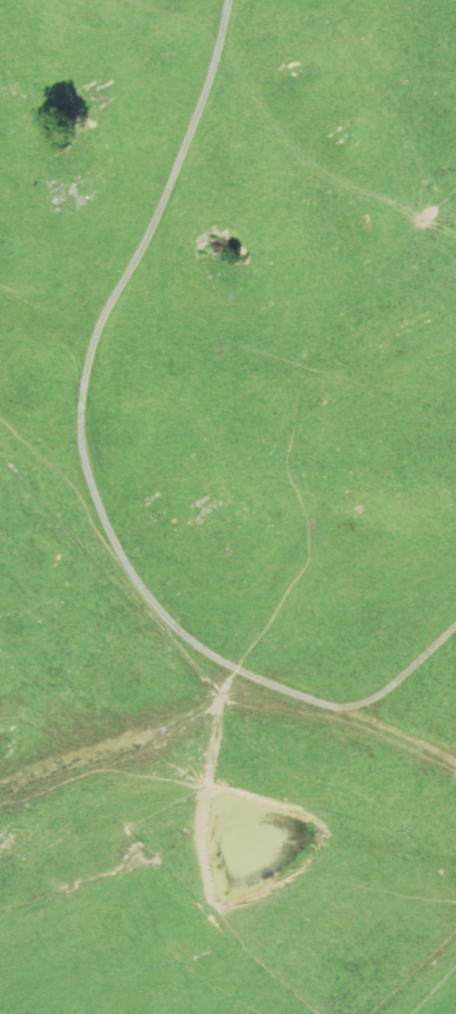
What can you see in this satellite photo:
road: (90, 475)

